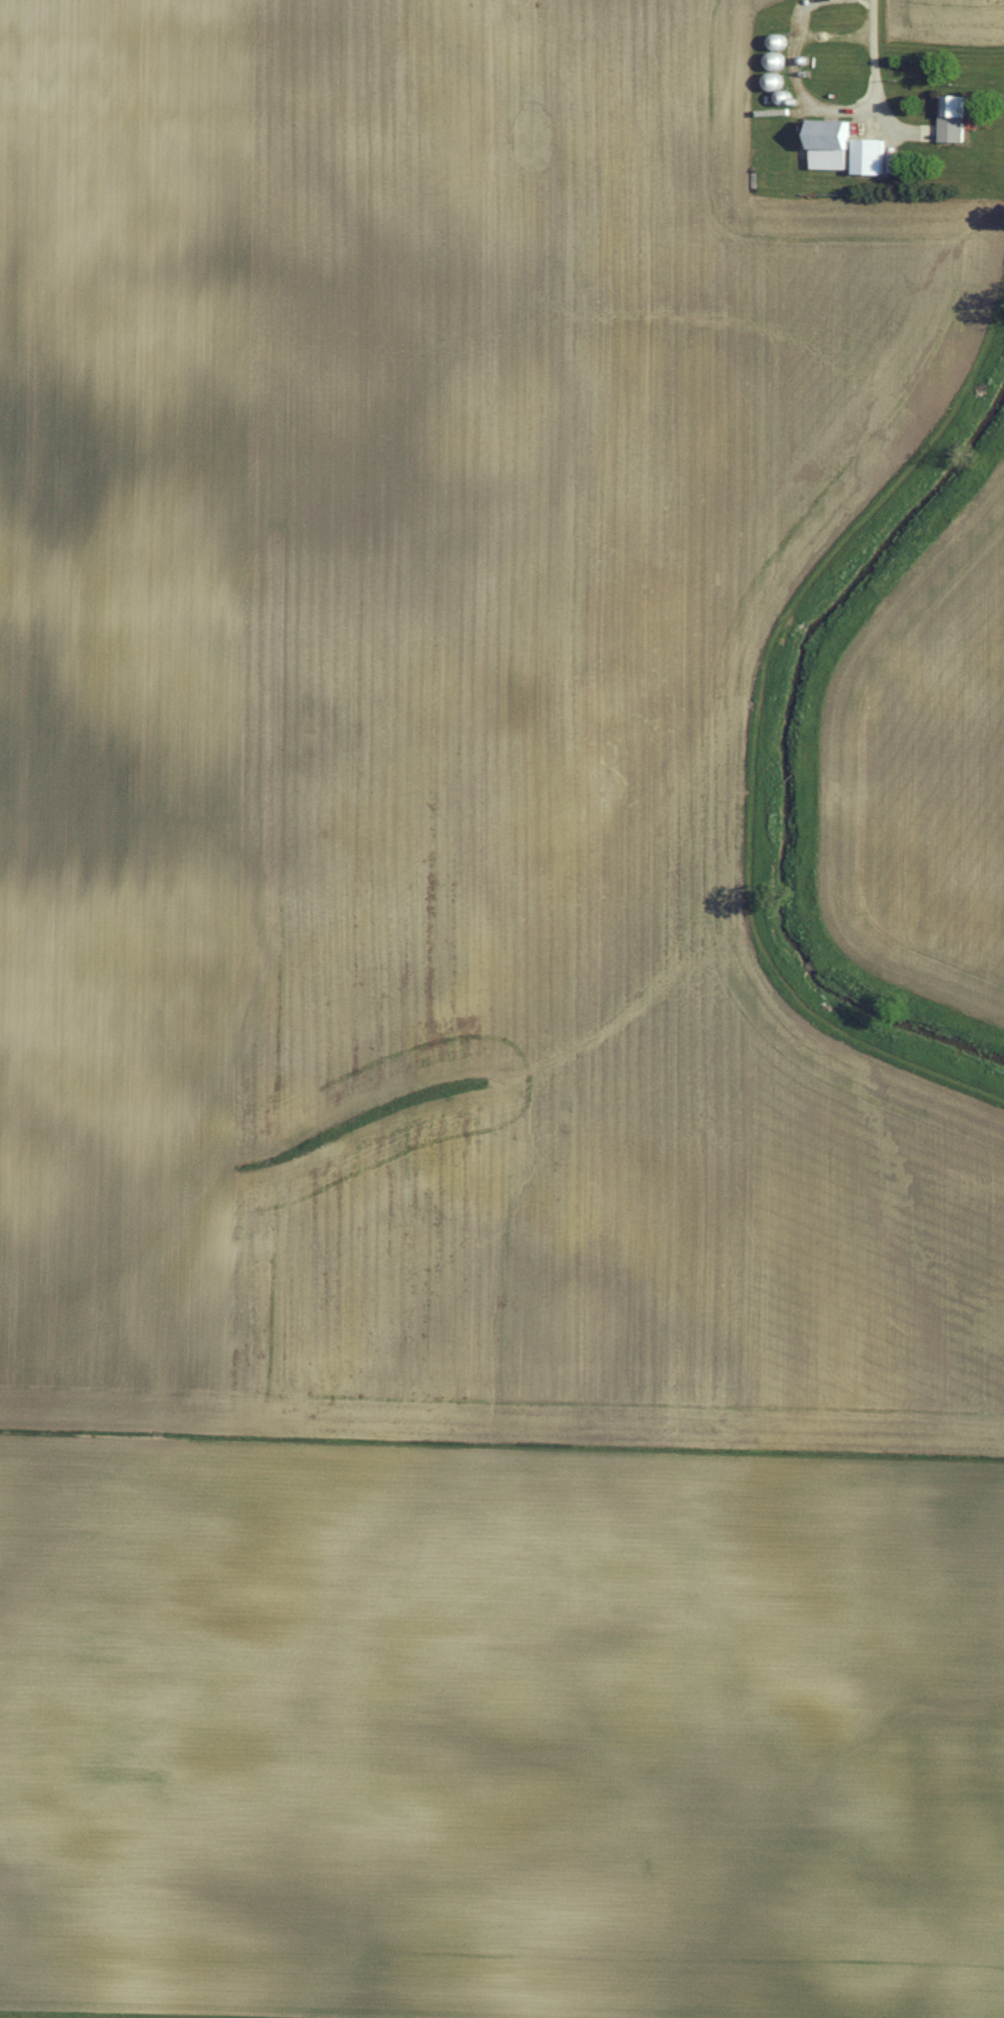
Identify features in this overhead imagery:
road: (877, 65)
building: (954, 117)
building: (846, 147)

